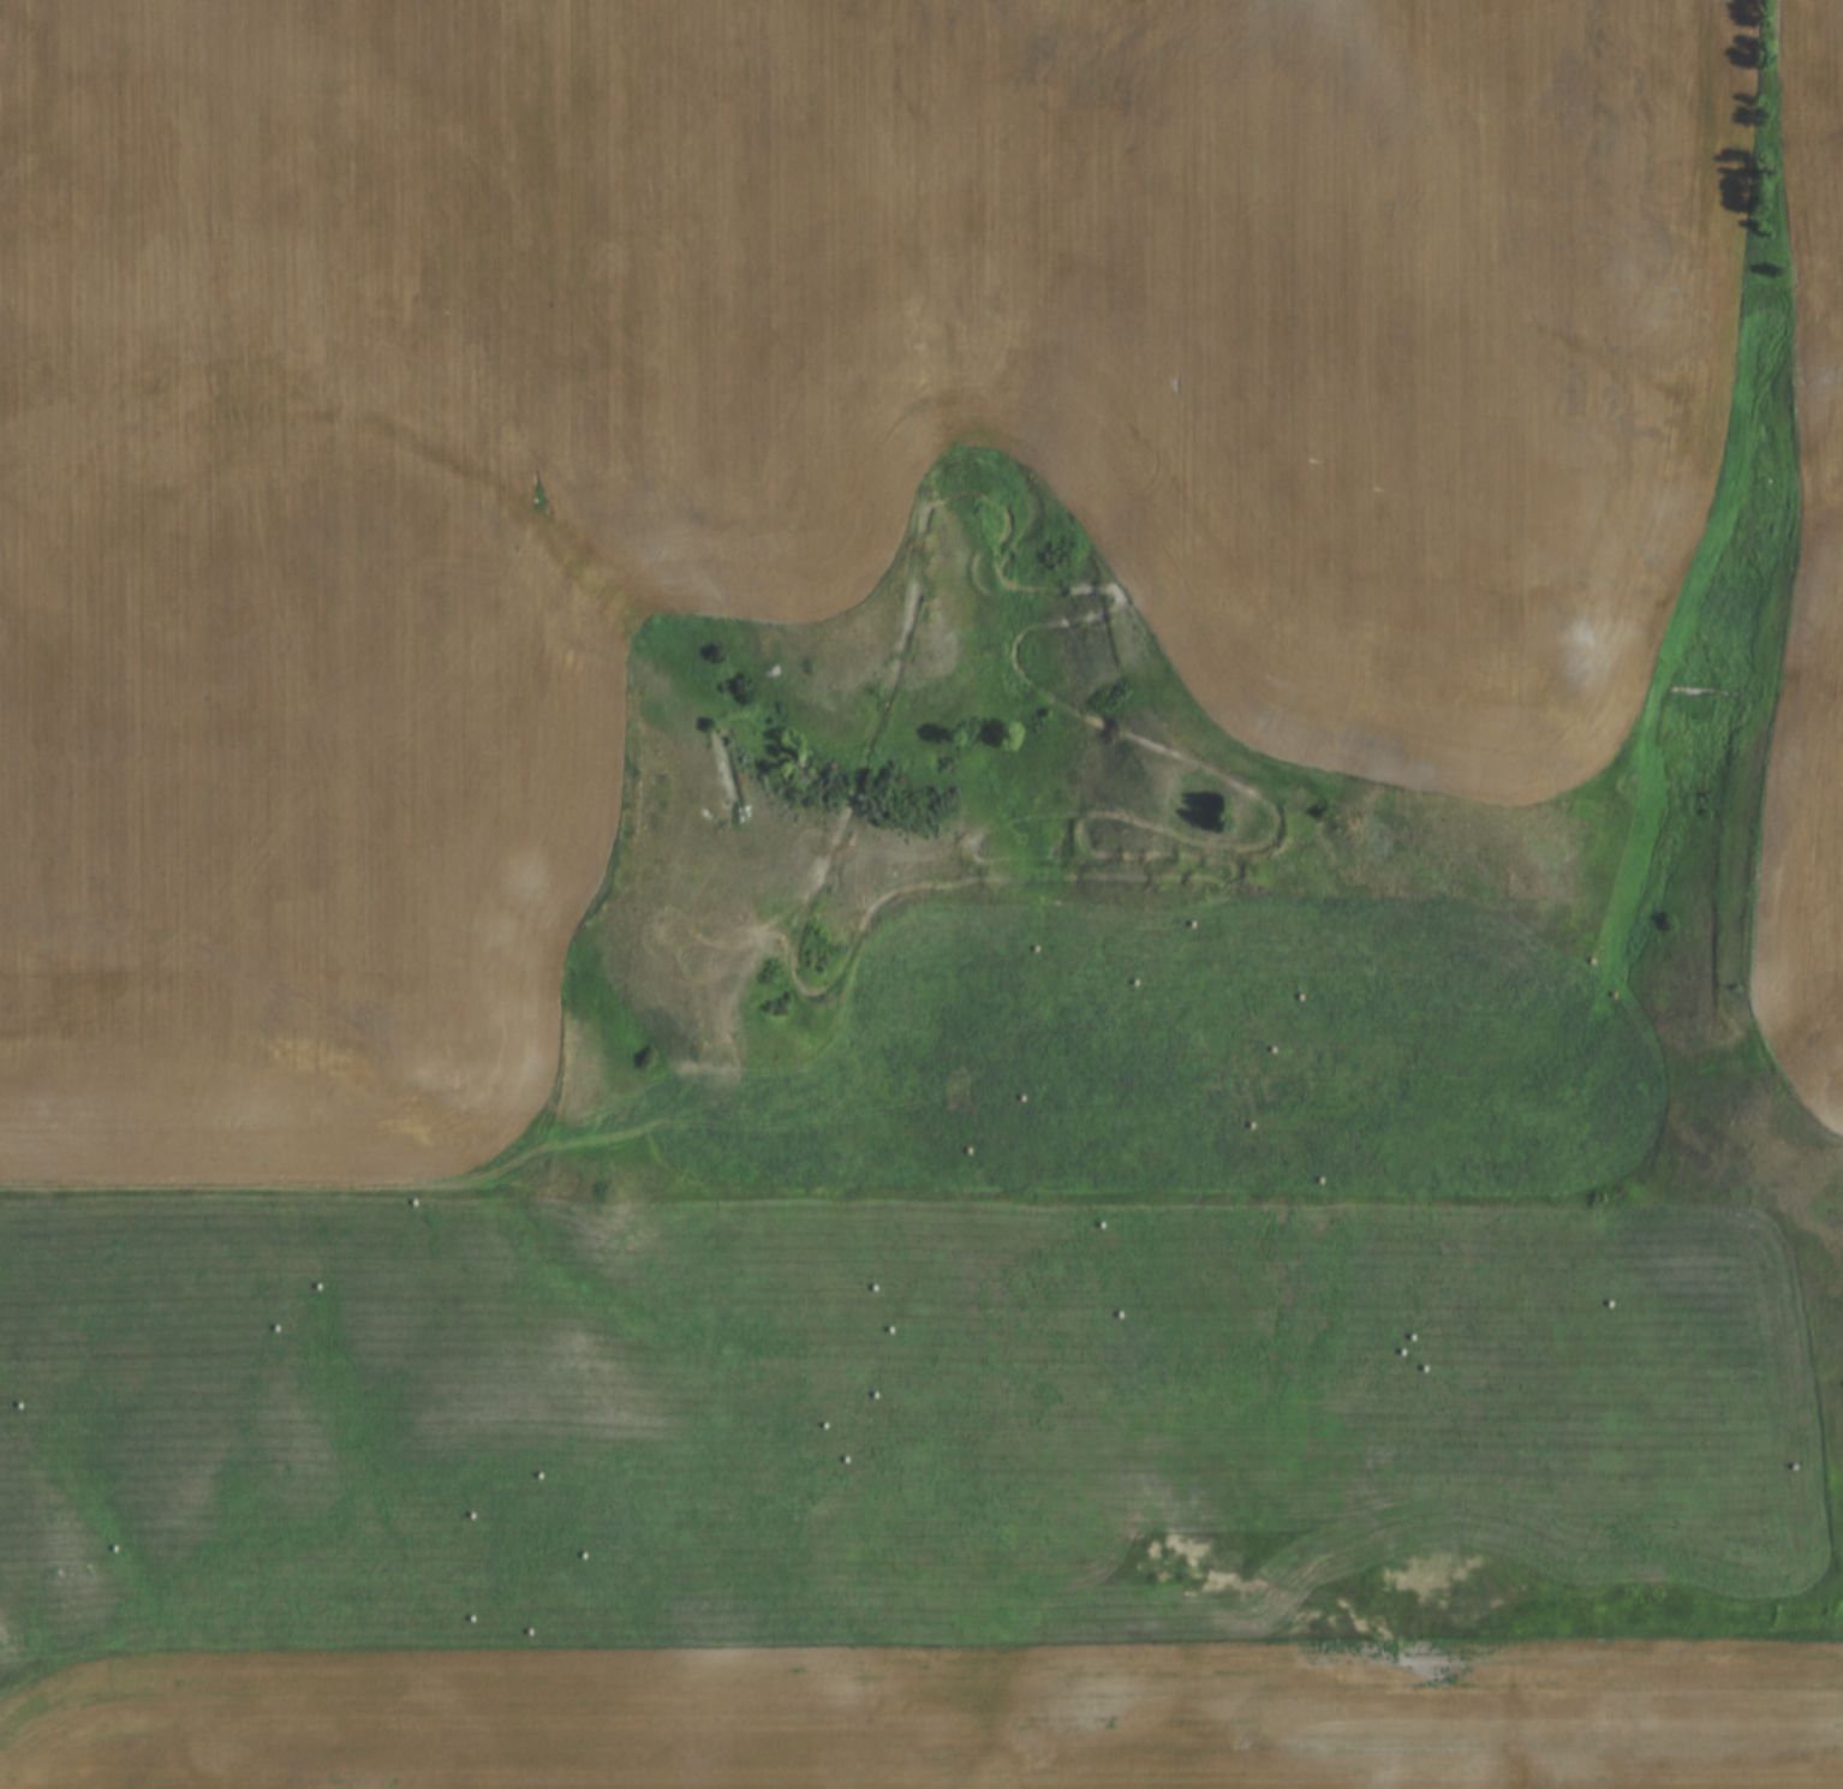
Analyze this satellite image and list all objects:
building: (329, 40)
road: (334, 1181)

